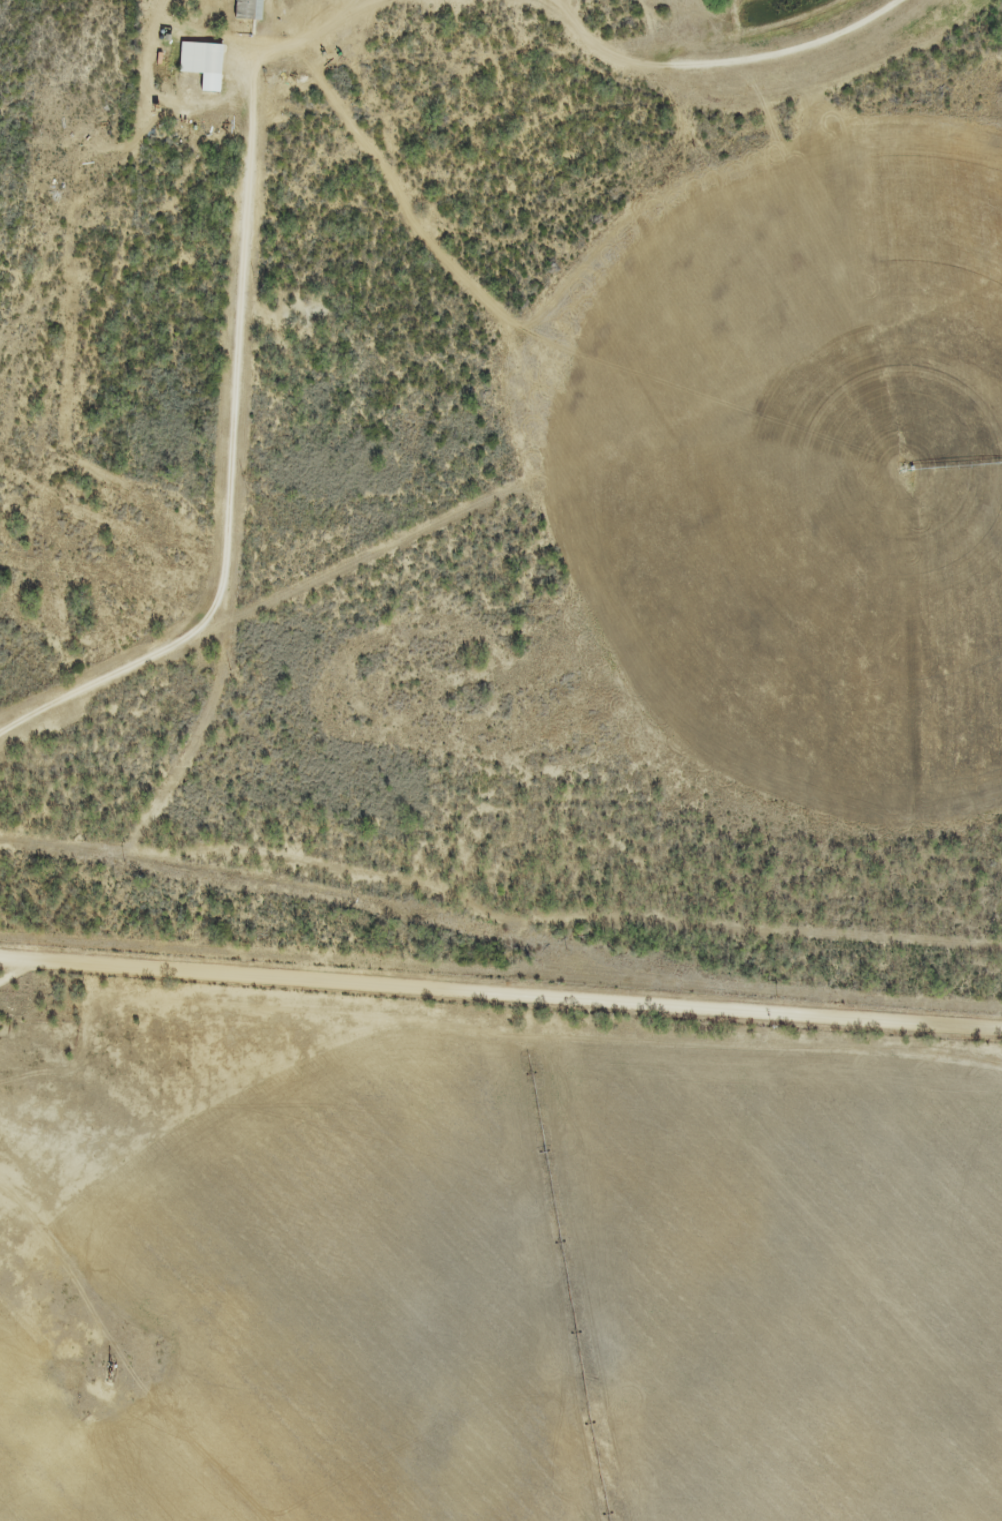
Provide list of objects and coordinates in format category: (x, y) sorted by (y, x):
building: (249, 10)
dam: (770, 52)
building: (203, 63)
road: (238, 344)
road: (501, 498)
road: (500, 995)

